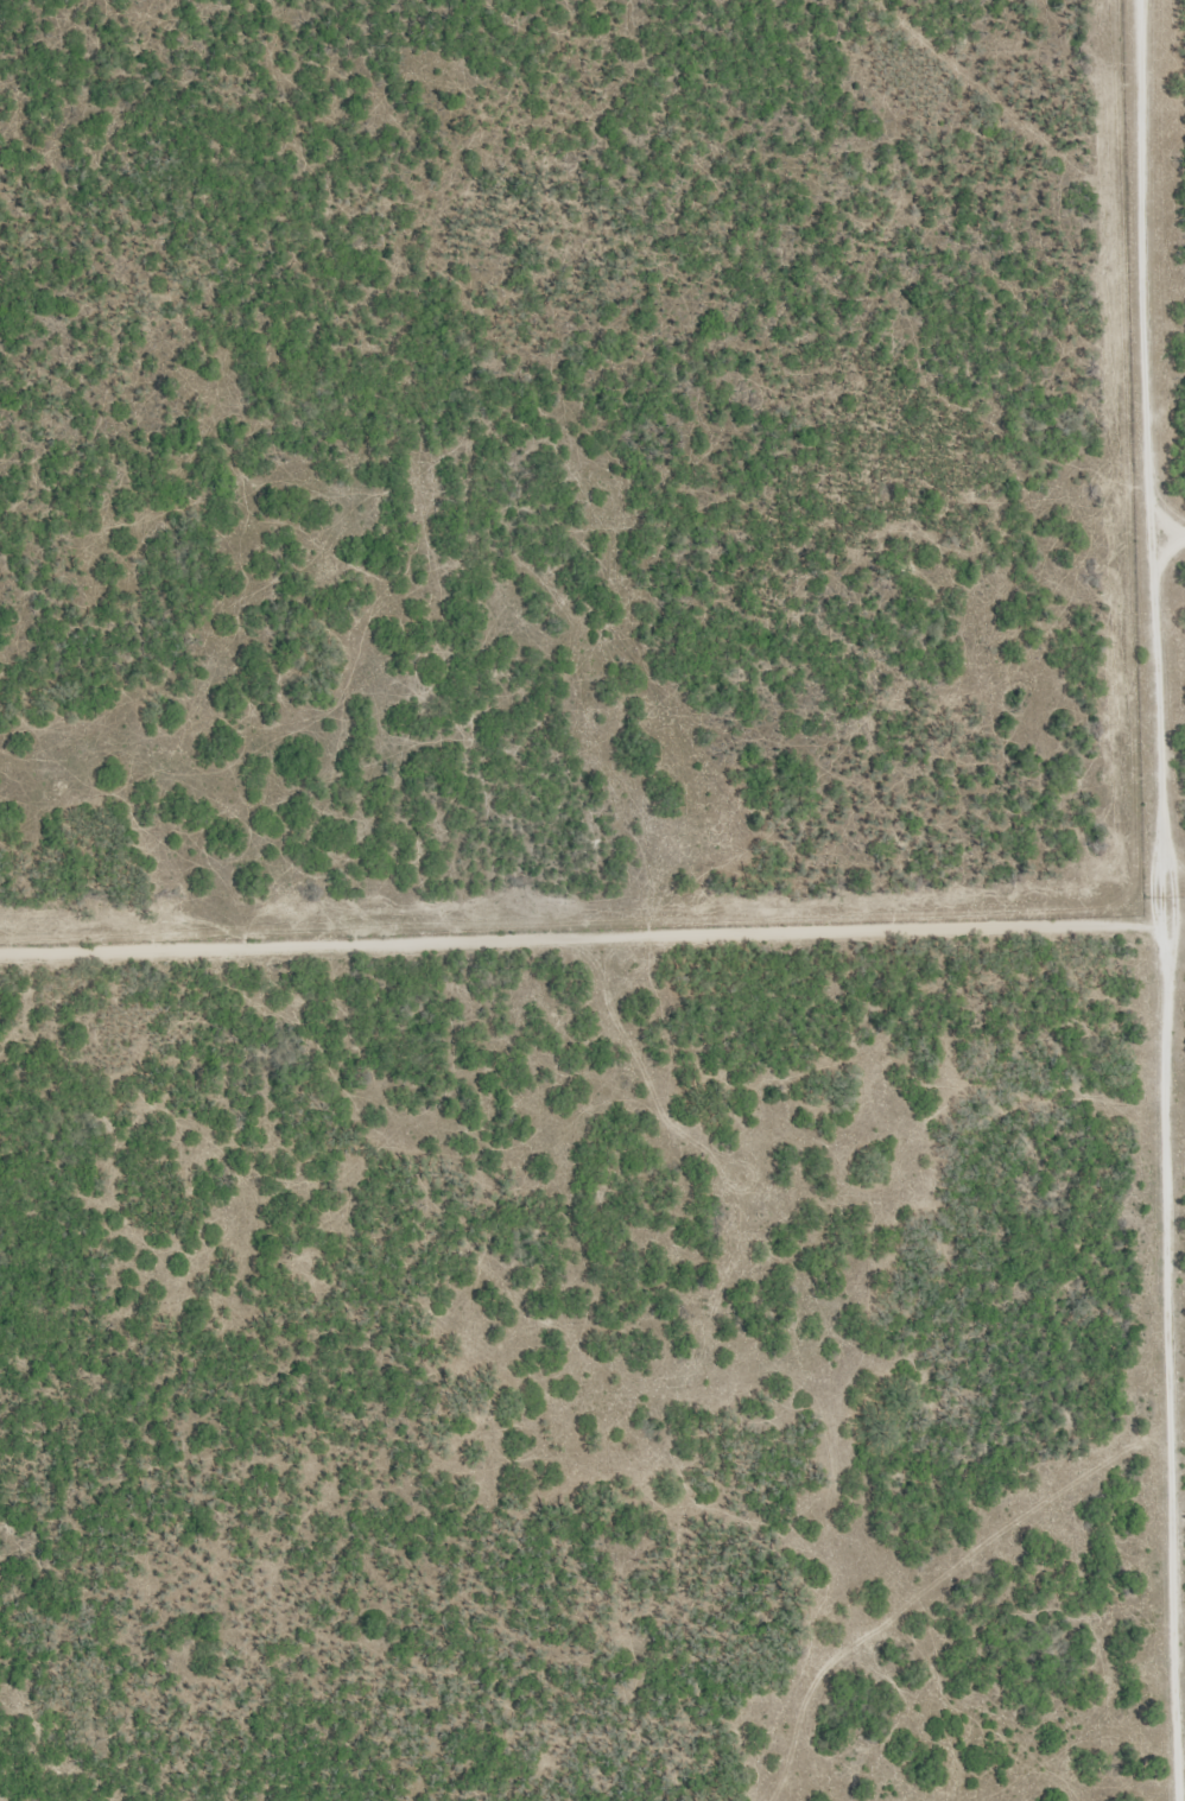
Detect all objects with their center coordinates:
road: (1181, 125)

